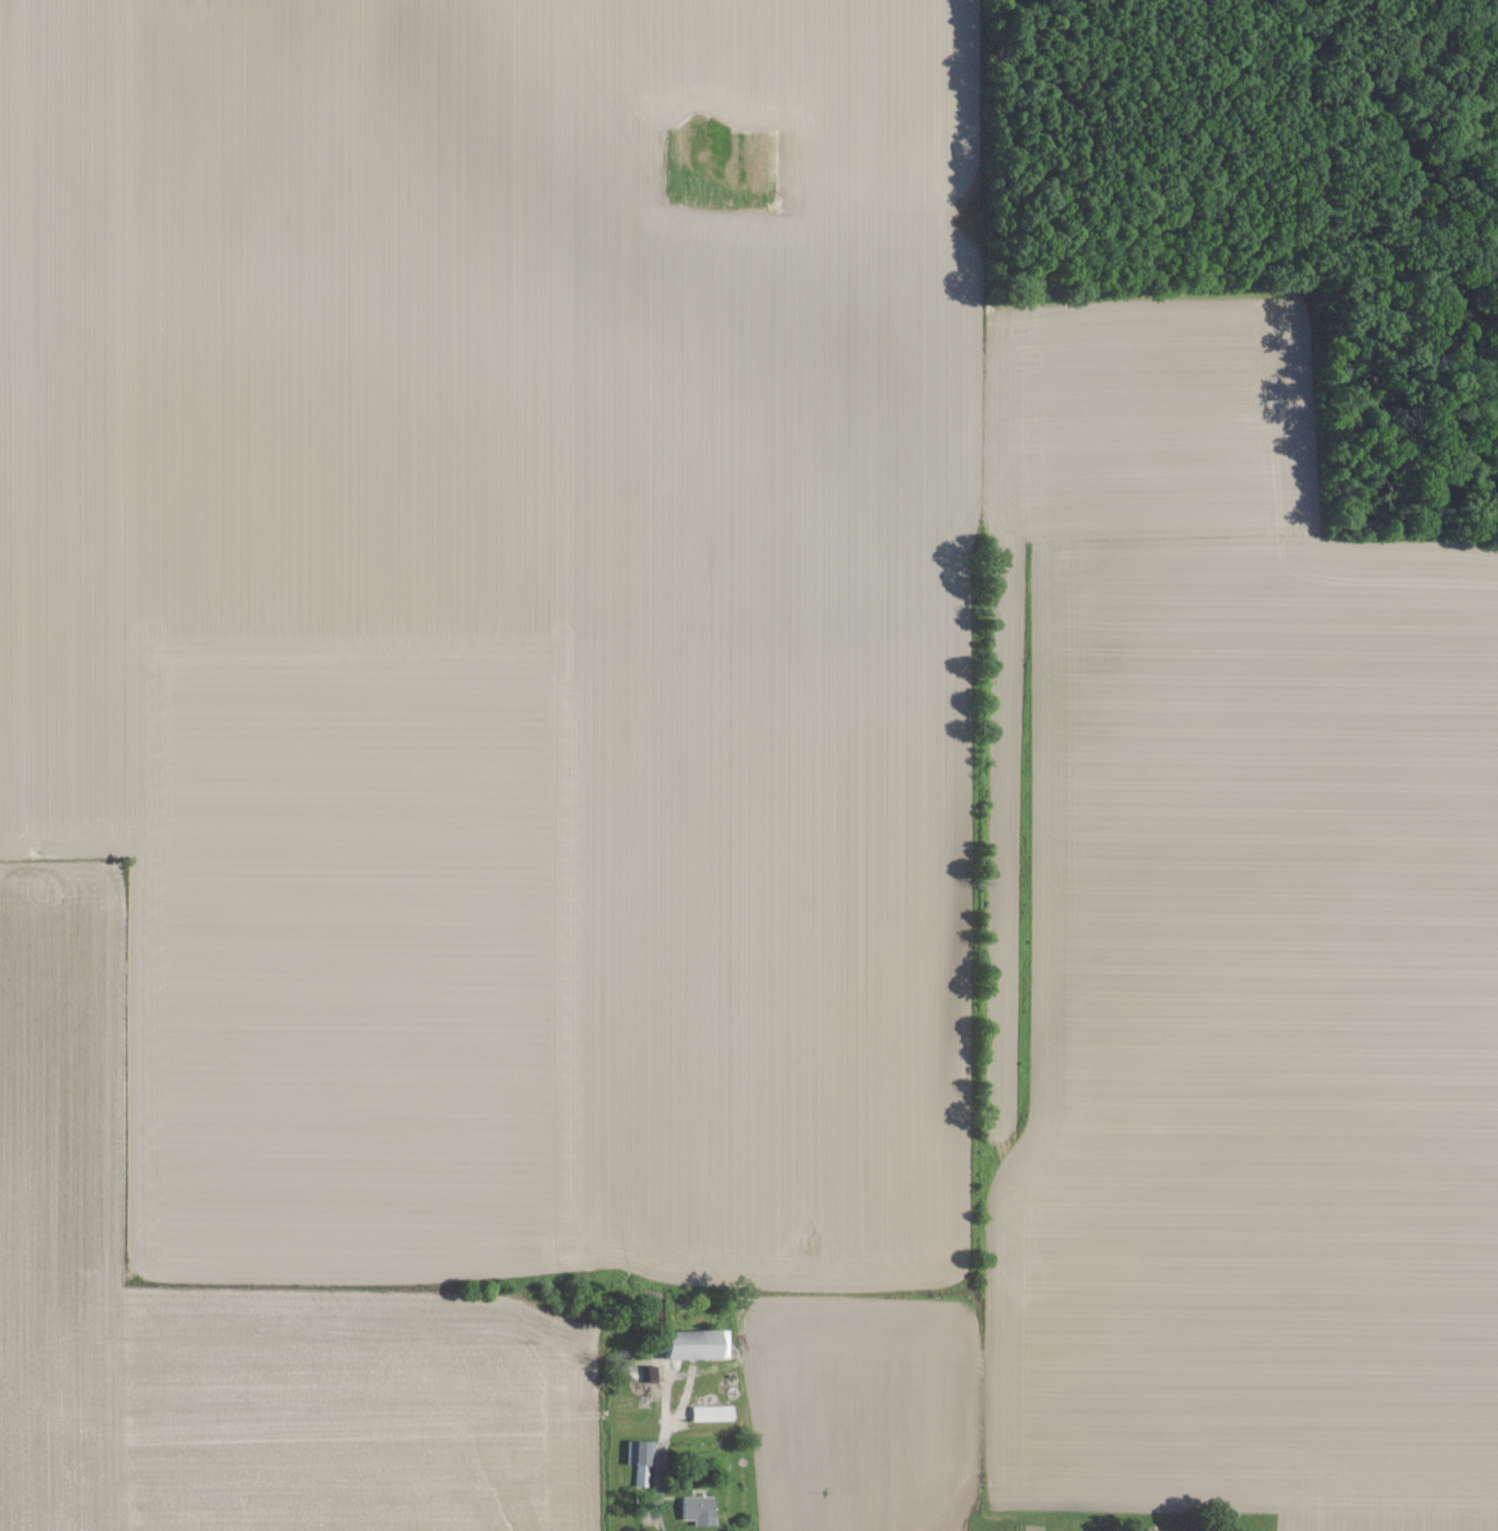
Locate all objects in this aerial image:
building: (688, 1346)
building: (643, 1376)
building: (706, 1416)
road: (661, 1449)
building: (634, 1455)
building: (692, 1512)

